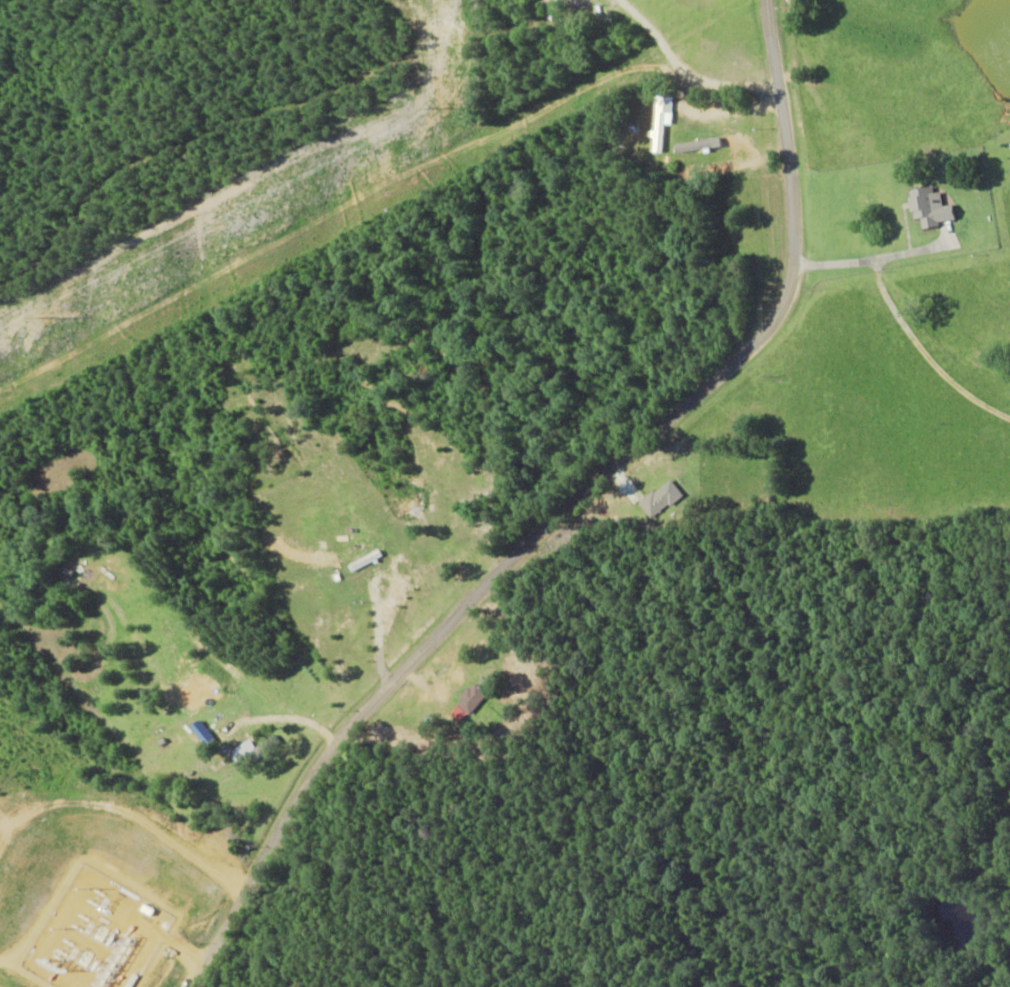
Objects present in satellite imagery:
building: (660, 120)
building: (928, 206)
building: (659, 498)
road: (623, 534)
building: (470, 698)
building: (253, 751)

